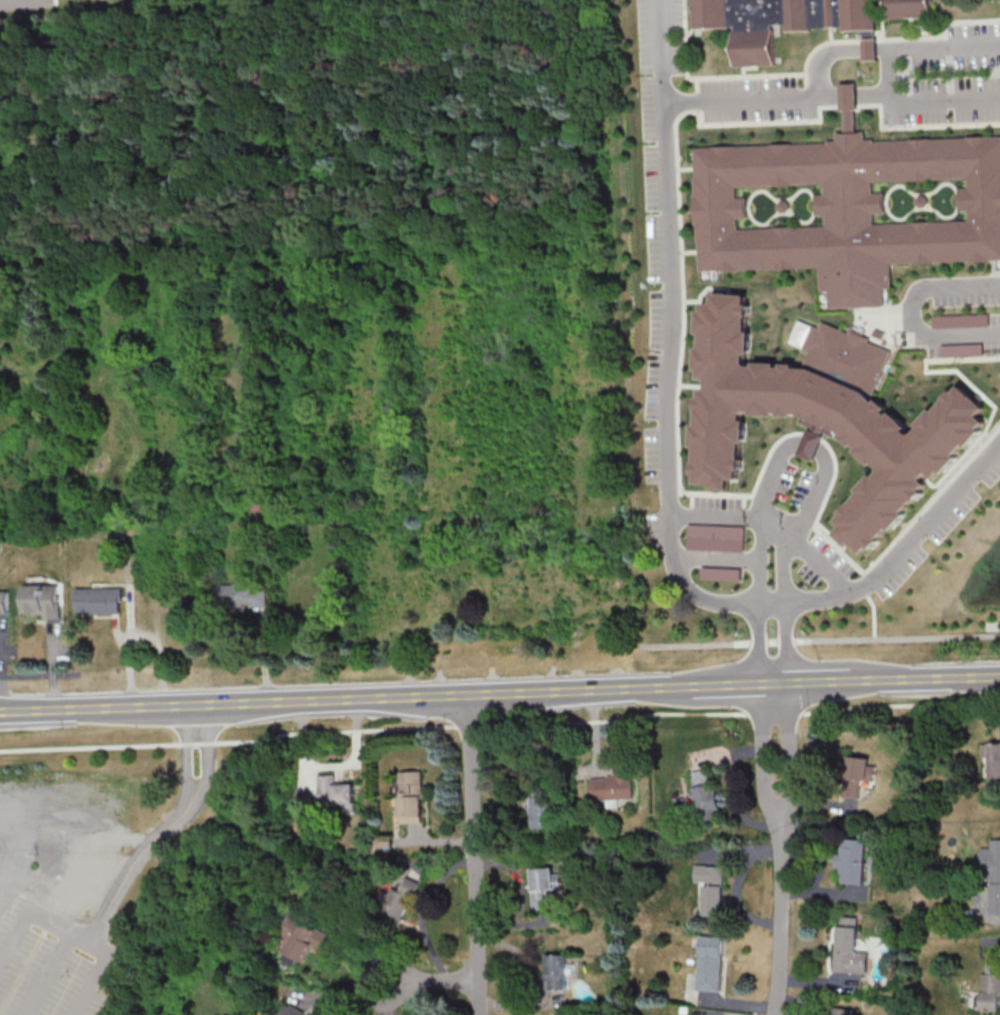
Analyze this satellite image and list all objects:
building: (896, 6)
building: (775, 22)
road: (890, 45)
building: (868, 50)
road: (887, 68)
building: (678, 88)
road: (834, 94)
road: (914, 309)
road: (807, 439)
road: (666, 484)
road: (773, 523)
road: (716, 558)
building: (239, 598)
building: (99, 601)
building: (3, 602)
building: (42, 603)
building: (810, 632)
building: (736, 635)
road: (880, 638)
road: (699, 644)
road: (39, 675)
road: (922, 678)
road: (815, 682)
road: (773, 683)
road: (728, 685)
road: (581, 690)
road: (440, 694)
road: (298, 699)
road: (170, 704)
road: (79, 707)
road: (500, 724)
road: (183, 751)
road: (209, 753)
building: (992, 759)
building: (858, 776)
building: (615, 785)
building: (336, 795)
building: (706, 796)
building: (410, 798)
building: (542, 805)
road: (777, 813)
road: (471, 854)
building: (851, 862)
building: (543, 887)
building: (712, 889)
road: (117, 897)
building: (394, 904)
road: (34, 908)
road: (419, 909)
road: (779, 914)
building: (305, 938)
building: (849, 948)
parking lot: (51, 960)
building: (710, 964)
road: (46, 970)
building: (554, 973)
road: (427, 979)
building: (991, 987)
building: (291, 1010)
building: (841, 1011)

